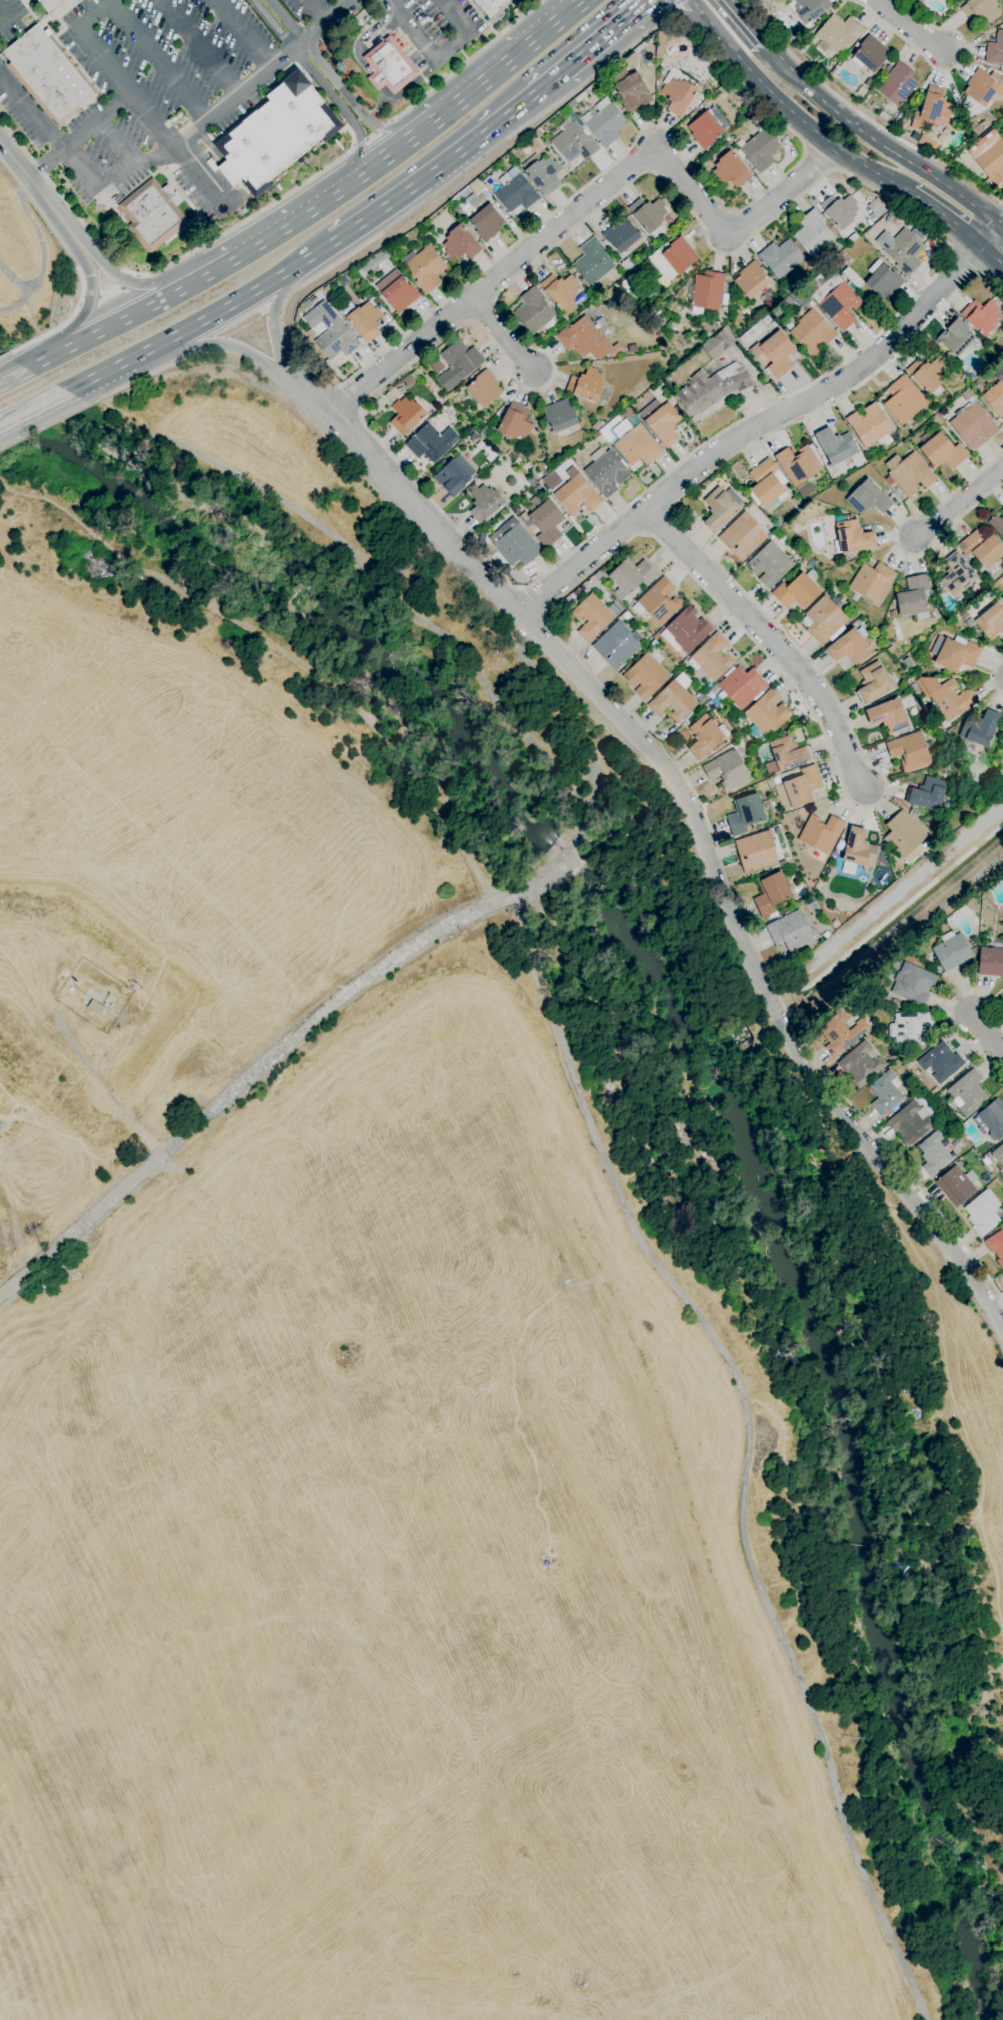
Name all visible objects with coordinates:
building: (922, 0)
road: (669, 1)
road: (675, 2)
road: (671, 3)
building: (491, 5)
building: (54, 6)
road: (553, 6)
road: (637, 6)
road: (672, 6)
building: (808, 9)
building: (980, 9)
road: (320, 10)
building: (518, 10)
road: (676, 12)
road: (672, 13)
road: (739, 14)
road: (743, 14)
road: (10, 17)
parking lot: (10, 19)
road: (672, 21)
parking lot: (435, 26)
road: (909, 27)
road: (239, 35)
building: (837, 35)
road: (758, 37)
road: (596, 40)
building: (650, 40)
road: (200, 46)
building: (659, 46)
building: (995, 50)
building: (871, 55)
road: (443, 57)
road: (156, 60)
road: (466, 62)
road: (782, 64)
building: (389, 66)
road: (111, 68)
flagpole: (449, 70)
road: (489, 71)
road: (946, 71)
flagpole: (410, 72)
road: (264, 73)
building: (49, 75)
building: (617, 75)
road: (331, 76)
road: (370, 76)
flagpole: (402, 79)
road: (546, 80)
road: (318, 83)
building: (897, 84)
parking lot: (166, 85)
building: (730, 86)
flagpole: (392, 87)
building: (983, 87)
flagpole: (423, 91)
building: (677, 92)
building: (632, 93)
road: (756, 99)
building: (573, 104)
flagpole: (403, 107)
road: (788, 109)
building: (932, 110)
road: (29, 114)
road: (862, 116)
building: (758, 117)
road: (94, 122)
building: (604, 122)
building: (750, 123)
road: (381, 127)
building: (707, 128)
building: (536, 134)
road: (370, 135)
building: (278, 136)
building: (573, 141)
road: (359, 142)
road: (117, 144)
road: (352, 145)
building: (760, 150)
road: (897, 156)
building: (989, 156)
road: (381, 159)
road: (817, 159)
road: (42, 163)
road: (226, 168)
road: (134, 169)
road: (430, 169)
building: (730, 170)
road: (80, 174)
building: (542, 174)
road: (196, 176)
building: (516, 192)
road: (39, 193)
building: (473, 196)
road: (592, 199)
building: (839, 210)
building: (648, 214)
building: (153, 215)
building: (891, 217)
road: (946, 218)
road: (297, 219)
building: (486, 223)
road: (1002, 226)
road: (38, 233)
building: (813, 234)
building: (623, 236)
building: (459, 244)
building: (901, 250)
road: (993, 254)
building: (673, 258)
building: (780, 258)
road: (965, 260)
building: (374, 261)
building: (593, 262)
road: (169, 264)
building: (425, 268)
road: (208, 276)
building: (751, 280)
road: (129, 281)
building: (883, 281)
road: (124, 282)
road: (26, 290)
building: (327, 290)
road: (109, 292)
building: (397, 292)
building: (561, 292)
building: (705, 293)
building: (632, 294)
road: (88, 296)
building: (797, 298)
road: (237, 300)
building: (725, 300)
road: (89, 302)
building: (598, 302)
building: (840, 305)
building: (533, 310)
road: (281, 311)
road: (272, 312)
building: (1002, 314)
building: (981, 316)
building: (363, 318)
building: (765, 320)
road: (121, 321)
road: (273, 324)
building: (773, 324)
road: (60, 325)
road: (244, 325)
building: (331, 332)
building: (812, 332)
building: (751, 333)
road: (501, 335)
building: (956, 337)
building: (584, 339)
road: (215, 343)
building: (718, 343)
road: (218, 344)
road: (207, 351)
building: (774, 354)
road: (1, 356)
road: (42, 360)
building: (458, 362)
building: (435, 365)
road: (104, 371)
building: (927, 374)
road: (12, 375)
road: (145, 375)
building: (414, 375)
building: (586, 386)
building: (712, 388)
building: (483, 390)
building: (967, 394)
road: (352, 396)
building: (995, 398)
building: (904, 400)
road: (32, 407)
building: (406, 415)
building: (559, 416)
building: (661, 421)
building: (493, 422)
road: (765, 422)
building: (515, 423)
building: (870, 425)
building: (973, 425)
road: (44, 426)
building: (596, 426)
building: (483, 431)
building: (630, 439)
building: (431, 443)
building: (480, 445)
building: (836, 446)
building: (942, 452)
building: (489, 454)
building: (543, 456)
building: (513, 457)
building: (798, 464)
building: (525, 467)
building: (544, 469)
building: (606, 471)
building: (908, 473)
building: (454, 476)
building: (531, 480)
building: (510, 481)
building: (551, 481)
building: (767, 484)
building: (539, 486)
building: (576, 495)
building: (868, 498)
building: (485, 502)
road: (961, 502)
building: (719, 509)
building: (1002, 511)
building: (525, 521)
building: (546, 521)
building: (997, 525)
building: (742, 537)
building: (852, 537)
road: (896, 539)
building: (514, 544)
building: (981, 548)
road: (574, 550)
building: (770, 565)
building: (957, 575)
building: (631, 578)
building: (872, 582)
building: (797, 590)
river: (304, 595)
building: (914, 597)
building: (1002, 598)
road: (534, 600)
building: (658, 602)
road: (718, 605)
building: (626, 615)
building: (594, 616)
building: (824, 620)
building: (968, 621)
building: (990, 621)
building: (685, 630)
road: (768, 639)
building: (617, 645)
building: (850, 646)
building: (954, 654)
building: (712, 658)
building: (646, 676)
road: (993, 677)
building: (873, 683)
building: (739, 689)
building: (946, 697)
building: (674, 699)
building: (891, 714)
building: (766, 715)
road: (562, 717)
building: (980, 728)
building: (1002, 735)
building: (706, 736)
building: (909, 751)
building: (786, 756)
building: (727, 770)
building: (798, 789)
building: (927, 794)
building: (745, 814)
road: (688, 821)
building: (821, 833)
building: (903, 834)
building: (756, 852)
building: (857, 852)
building: (911, 855)
river: (567, 857)
road: (521, 893)
building: (771, 894)
building: (799, 903)
building: (835, 923)
building: (790, 931)
building: (951, 951)
building: (990, 962)
building: (913, 984)
building: (1002, 989)
building: (71, 990)
building: (894, 1002)
building: (111, 1005)
building: (96, 1008)
road: (946, 1015)
building: (909, 1029)
building: (840, 1032)
road: (991, 1035)
building: (940, 1062)
building: (861, 1064)
road: (570, 1066)
road: (245, 1084)
road: (101, 1085)
building: (885, 1093)
building: (967, 1093)
building: (942, 1118)
building: (991, 1120)
building: (910, 1123)
building: (934, 1153)
building: (998, 1155)
building: (957, 1185)
building: (983, 1213)
building: (996, 1246)
river: (846, 1422)

